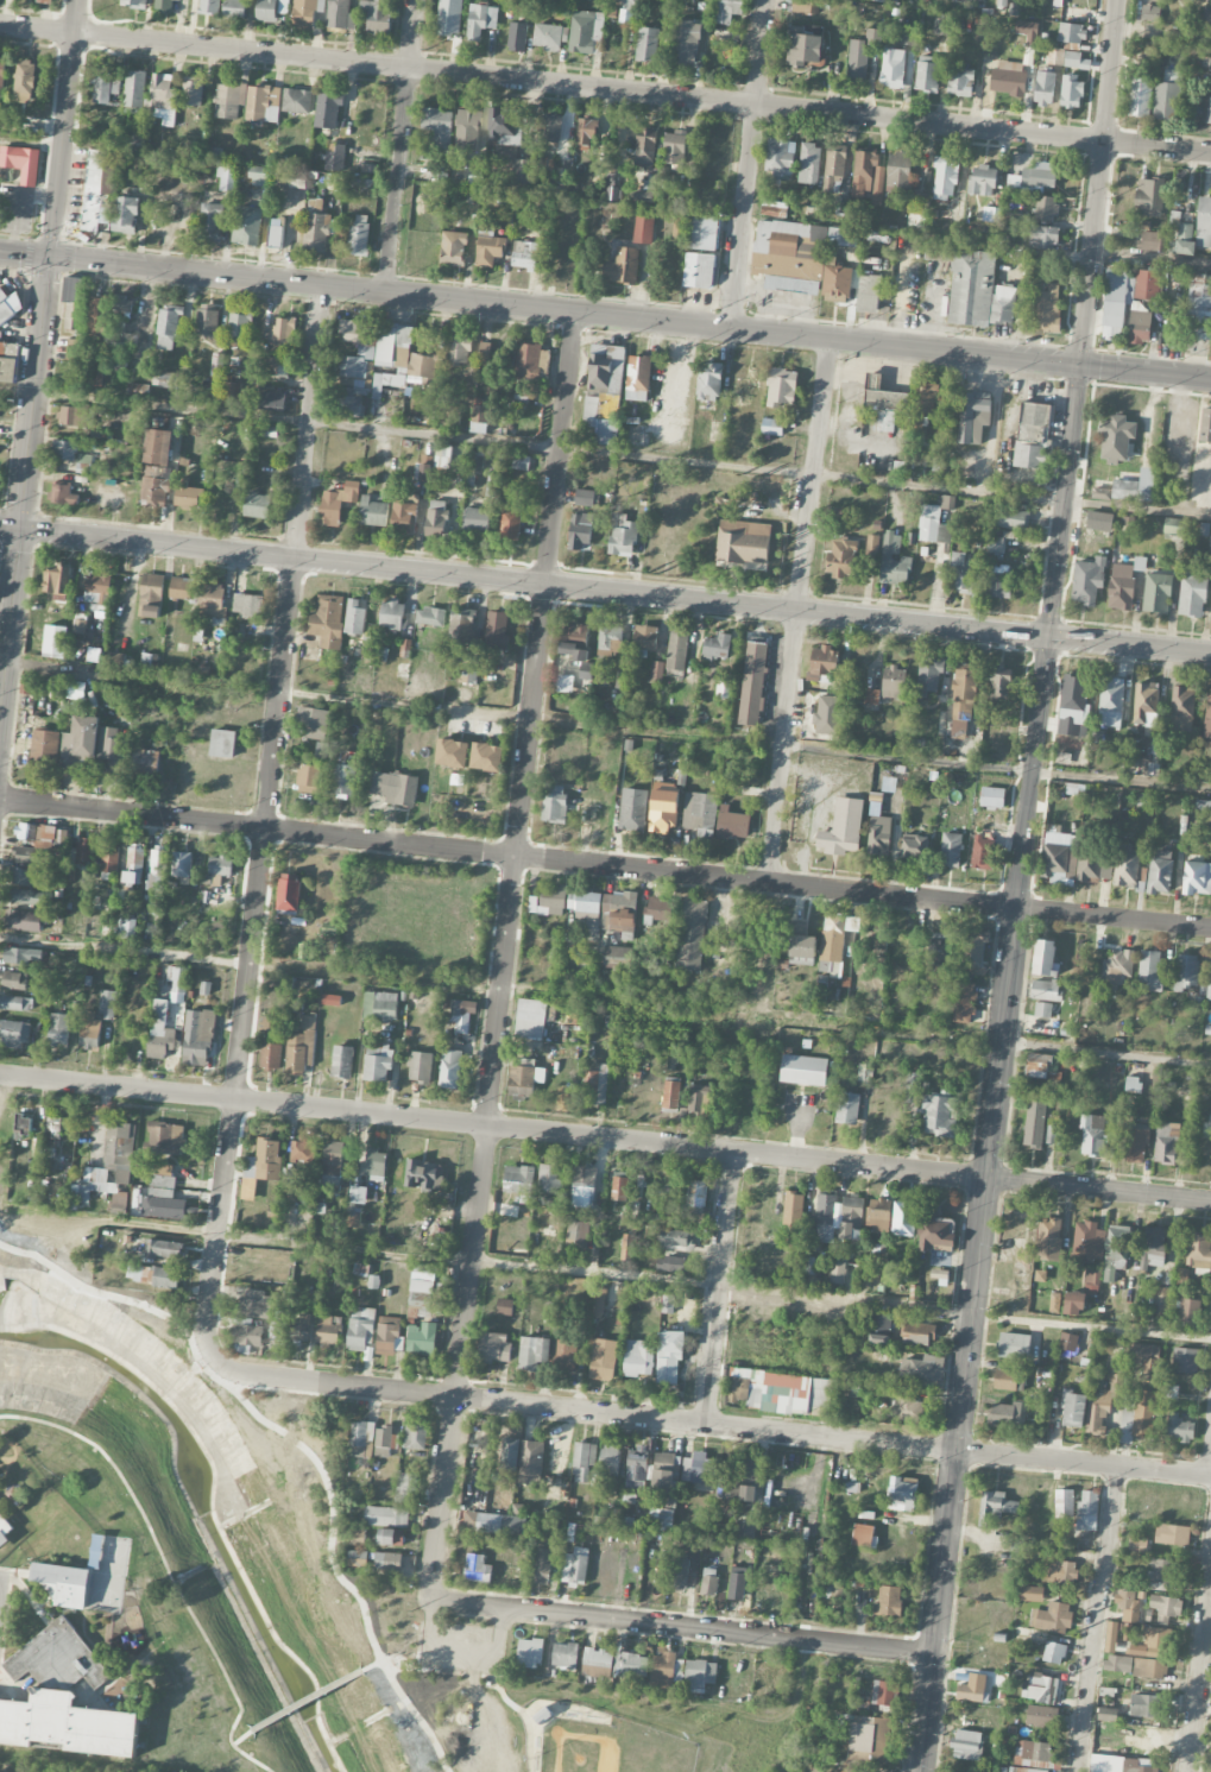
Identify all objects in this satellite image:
building: (177, 0)
building: (878, 0)
building: (135, 4)
building: (163, 5)
building: (630, 5)
building: (209, 6)
building: (283, 6)
building: (805, 6)
building: (234, 8)
building: (266, 11)
building: (726, 11)
building: (307, 12)
building: (1150, 12)
building: (339, 14)
building: (377, 15)
building: (449, 17)
building: (480, 20)
building: (944, 24)
building: (584, 31)
building: (1028, 32)
building: (1072, 33)
road: (1162, 33)
building: (517, 37)
building: (548, 37)
building: (907, 37)
building: (685, 43)
building: (647, 44)
building: (805, 50)
building: (1055, 56)
building: (857, 61)
building: (1077, 61)
building: (893, 68)
building: (1, 72)
building: (927, 74)
building: (25, 77)
building: (1008, 78)
building: (961, 81)
building: (105, 87)
road: (605, 88)
building: (1043, 88)
building: (134, 92)
building: (193, 92)
building: (1072, 92)
building: (1167, 95)
building: (1141, 96)
building: (228, 100)
building: (261, 101)
building: (296, 101)
building: (1207, 109)
building: (328, 111)
building: (12, 126)
building: (439, 126)
building: (505, 126)
building: (550, 127)
road: (64, 128)
building: (587, 133)
road: (31, 141)
road: (399, 146)
building: (645, 146)
building: (675, 147)
building: (335, 156)
building: (780, 159)
building: (21, 163)
road: (746, 164)
building: (809, 164)
building: (834, 168)
building: (898, 174)
building: (260, 176)
building: (227, 177)
building: (524, 177)
building: (868, 177)
building: (946, 177)
building: (290, 178)
building: (1035, 178)
building: (983, 181)
road: (1098, 183)
building: (364, 187)
building: (96, 193)
building: (1149, 196)
building: (706, 198)
building: (774, 208)
building: (1047, 208)
building: (125, 215)
building: (210, 222)
building: (1203, 222)
building: (247, 225)
building: (316, 227)
building: (644, 227)
building: (679, 227)
building: (1186, 231)
building: (702, 232)
building: (359, 234)
building: (275, 235)
building: (843, 237)
building: (1043, 238)
building: (1152, 241)
building: (1185, 246)
building: (488, 247)
building: (453, 248)
road: (26, 254)
building: (524, 254)
building: (789, 254)
traffic signals: (52, 258)
road: (1150, 259)
road: (100, 263)
building: (622, 266)
building: (699, 270)
building: (977, 290)
building: (869, 294)
building: (1127, 296)
building: (74, 303)
building: (122, 304)
building: (8, 305)
building: (1047, 309)
building: (1199, 310)
road: (613, 316)
building: (207, 320)
building: (106, 322)
building: (1139, 324)
building: (239, 327)
building: (168, 328)
building: (282, 329)
building: (358, 336)
building: (391, 342)
building: (459, 348)
building: (75, 349)
building: (487, 352)
building: (399, 359)
building: (531, 360)
building: (116, 364)
building: (216, 364)
building: (277, 366)
building: (423, 366)
traffic signals: (1079, 366)
building: (606, 368)
road: (1127, 371)
building: (638, 378)
road: (1193, 378)
building: (169, 379)
road: (1091, 380)
building: (709, 381)
building: (386, 383)
building: (742, 387)
building: (781, 387)
building: (138, 390)
building: (2, 392)
building: (926, 398)
building: (272, 402)
building: (884, 404)
building: (349, 405)
building: (481, 415)
building: (72, 416)
building: (975, 416)
building: (600, 423)
building: (1204, 424)
building: (772, 427)
building: (1033, 435)
building: (1117, 439)
building: (64, 449)
road: (605, 453)
building: (447, 456)
building: (521, 462)
building: (84, 464)
building: (475, 465)
building: (157, 467)
building: (423, 467)
building: (1147, 484)
road: (25, 486)
building: (62, 494)
building: (188, 494)
building: (409, 497)
building: (586, 497)
road: (1079, 502)
building: (338, 503)
building: (257, 505)
building: (372, 512)
building: (404, 518)
building: (436, 518)
building: (1011, 518)
building: (477, 519)
building: (935, 522)
building: (511, 523)
building: (1173, 525)
road: (10, 528)
traffic signals: (20, 529)
building: (580, 530)
building: (623, 535)
building: (742, 542)
building: (995, 544)
building: (841, 559)
building: (894, 560)
building: (963, 573)
building: (1087, 580)
building: (57, 581)
building: (1001, 582)
building: (97, 587)
building: (181, 587)
building: (1121, 587)
road: (616, 591)
building: (1156, 592)
building: (1191, 593)
building: (151, 595)
building: (210, 600)
building: (247, 605)
road: (797, 610)
building: (391, 613)
building: (354, 617)
building: (430, 617)
road: (1035, 618)
building: (328, 620)
building: (461, 625)
building: (78, 626)
building: (497, 630)
building: (575, 631)
traffic signals: (1051, 636)
building: (645, 637)
road: (1049, 637)
building: (55, 641)
building: (717, 647)
building: (677, 649)
building: (575, 651)
building: (607, 651)
building: (824, 664)
building: (471, 669)
building: (585, 670)
building: (656, 671)
building: (929, 674)
building: (894, 682)
building: (563, 683)
building: (753, 683)
building: (1001, 685)
building: (25, 687)
building: (724, 689)
building: (75, 690)
building: (871, 696)
building: (963, 698)
building: (1144, 700)
building: (1111, 701)
building: (1182, 702)
building: (1073, 705)
building: (827, 714)
building: (1209, 714)
building: (313, 721)
road: (605, 726)
building: (80, 743)
building: (222, 743)
building: (44, 748)
building: (111, 748)
building: (452, 753)
building: (487, 757)
building: (145, 763)
road: (1047, 774)
building: (308, 778)
building: (343, 781)
building: (396, 788)
building: (1072, 788)
building: (992, 796)
building: (1149, 797)
building: (554, 803)
building: (1203, 803)
building: (633, 809)
building: (700, 814)
road: (263, 819)
building: (661, 821)
building: (732, 824)
building: (843, 828)
building: (42, 833)
building: (879, 834)
building: (914, 846)
building: (83, 850)
building: (951, 850)
building: (983, 853)
building: (1055, 855)
building: (29, 856)
building: (109, 858)
building: (182, 864)
road: (605, 864)
building: (134, 865)
building: (1127, 866)
building: (157, 868)
building: (1095, 868)
building: (220, 870)
building: (1160, 870)
building: (24, 876)
building: (1196, 877)
building: (289, 891)
building: (32, 897)
building: (553, 900)
building: (585, 903)
building: (658, 908)
building: (619, 912)
road: (999, 919)
building: (23, 920)
building: (125, 927)
building: (690, 933)
building: (834, 941)
building: (801, 945)
building: (940, 951)
building: (973, 952)
road: (504, 953)
building: (23, 956)
building: (617, 957)
building: (1045, 958)
building: (1117, 969)
building: (1150, 970)
building: (1185, 971)
building: (1210, 978)
building: (14, 980)
building: (178, 983)
building: (1046, 990)
building: (299, 991)
building: (332, 999)
road: (607, 999)
building: (965, 1001)
building: (15, 1003)
building: (107, 1004)
building: (380, 1005)
building: (1042, 1009)
building: (462, 1014)
building: (530, 1019)
building: (58, 1029)
building: (89, 1030)
building: (159, 1032)
building: (13, 1034)
building: (197, 1038)
road: (1003, 1042)
building: (301, 1047)
building: (271, 1055)
building: (342, 1061)
building: (378, 1061)
building: (1041, 1065)
building: (420, 1066)
building: (449, 1068)
building: (803, 1070)
building: (864, 1072)
building: (522, 1077)
building: (914, 1083)
building: (1133, 1084)
building: (594, 1087)
building: (670, 1095)
building: (698, 1097)
building: (847, 1108)
building: (940, 1115)
building: (1207, 1121)
building: (23, 1125)
road: (493, 1125)
building: (53, 1128)
building: (1033, 1130)
building: (1052, 1131)
building: (1092, 1135)
building: (165, 1139)
building: (1166, 1142)
building: (1135, 1146)
building: (302, 1152)
building: (332, 1161)
building: (376, 1164)
building: (261, 1166)
building: (111, 1169)
building: (423, 1175)
building: (289, 1178)
building: (549, 1178)
building: (519, 1181)
building: (584, 1186)
building: (620, 1188)
road: (1099, 1188)
building: (696, 1193)
building: (163, 1194)
building: (358, 1194)
building: (793, 1209)
building: (835, 1215)
building: (878, 1215)
building: (903, 1218)
building: (851, 1230)
building: (935, 1232)
building: (1016, 1234)
building: (578, 1235)
building: (676, 1237)
building: (1049, 1238)
building: (1087, 1242)
building: (626, 1247)
building: (1154, 1247)
building: (164, 1248)
building: (1199, 1249)
building: (1116, 1250)
building: (673, 1259)
building: (139, 1273)
building: (837, 1273)
building: (165, 1278)
road: (656, 1278)
building: (1092, 1280)
building: (373, 1281)
road: (720, 1287)
building: (423, 1299)
building: (1161, 1299)
building: (1054, 1303)
building: (668, 1304)
building: (1073, 1304)
building: (256, 1305)
building: (505, 1306)
building: (598, 1306)
building: (1188, 1308)
road: (971, 1314)
building: (301, 1326)
building: (328, 1329)
building: (360, 1329)
building: (881, 1329)
building: (247, 1335)
building: (387, 1336)
building: (917, 1336)
building: (422, 1338)
building: (1068, 1341)
building: (493, 1345)
building: (1014, 1345)
building: (1144, 1352)
building: (534, 1354)
building: (564, 1355)
building: (669, 1356)
building: (638, 1358)
building: (604, 1360)
building: (1185, 1360)
building: (922, 1368)
building: (1005, 1380)
building: (1171, 1391)
building: (781, 1392)
building: (1103, 1402)
building: (912, 1408)
building: (1074, 1410)
road: (579, 1412)
building: (1144, 1413)
building: (1005, 1414)
building: (1178, 1426)
building: (361, 1432)
building: (416, 1436)
building: (384, 1442)
road: (299, 1446)
building: (507, 1453)
building: (610, 1458)
building: (584, 1461)
building: (530, 1462)
road: (1084, 1463)
building: (636, 1468)
building: (698, 1469)
building: (663, 1473)
building: (738, 1481)
building: (405, 1486)
building: (902, 1493)
building: (1064, 1503)
building: (995, 1505)
building: (1087, 1511)
building: (386, 1516)
building: (660, 1519)
building: (497, 1524)
building: (5, 1530)
building: (1171, 1533)
building: (357, 1535)
building: (862, 1535)
building: (391, 1537)
building: (1137, 1546)
park: (289, 1557)
building: (357, 1558)
building: (389, 1560)
building: (543, 1566)
building: (575, 1566)
road: (166, 1569)
building: (477, 1569)
building: (1160, 1570)
building: (1062, 1572)
building: (677, 1574)
building: (709, 1581)
building: (65, 1583)
building: (737, 1583)
building: (1032, 1594)
building: (888, 1601)
building: (1127, 1604)
building: (1165, 1606)
road: (938, 1612)
building: (1052, 1617)
road: (1096, 1619)
road: (682, 1627)
building: (1111, 1637)
building: (1154, 1637)
road: (460, 1648)
parking lot: (463, 1648)
building: (1137, 1650)
building: (529, 1652)
building: (1054, 1653)
building: (564, 1654)
road: (402, 1661)
building: (597, 1663)
building: (1117, 1663)
building: (630, 1665)
building: (1148, 1667)
building: (662, 1672)
building: (699, 1675)
road: (1199, 1675)
building: (972, 1688)
building: (1043, 1688)
building: (884, 1692)
building: (63, 1698)
road: (307, 1700)
building: (1144, 1704)
building: (1108, 1714)
building: (1042, 1716)
building: (870, 1736)
road: (242, 1738)
building: (967, 1745)
building: (1032, 1753)
building: (1122, 1765)
building: (1014, 1770)

